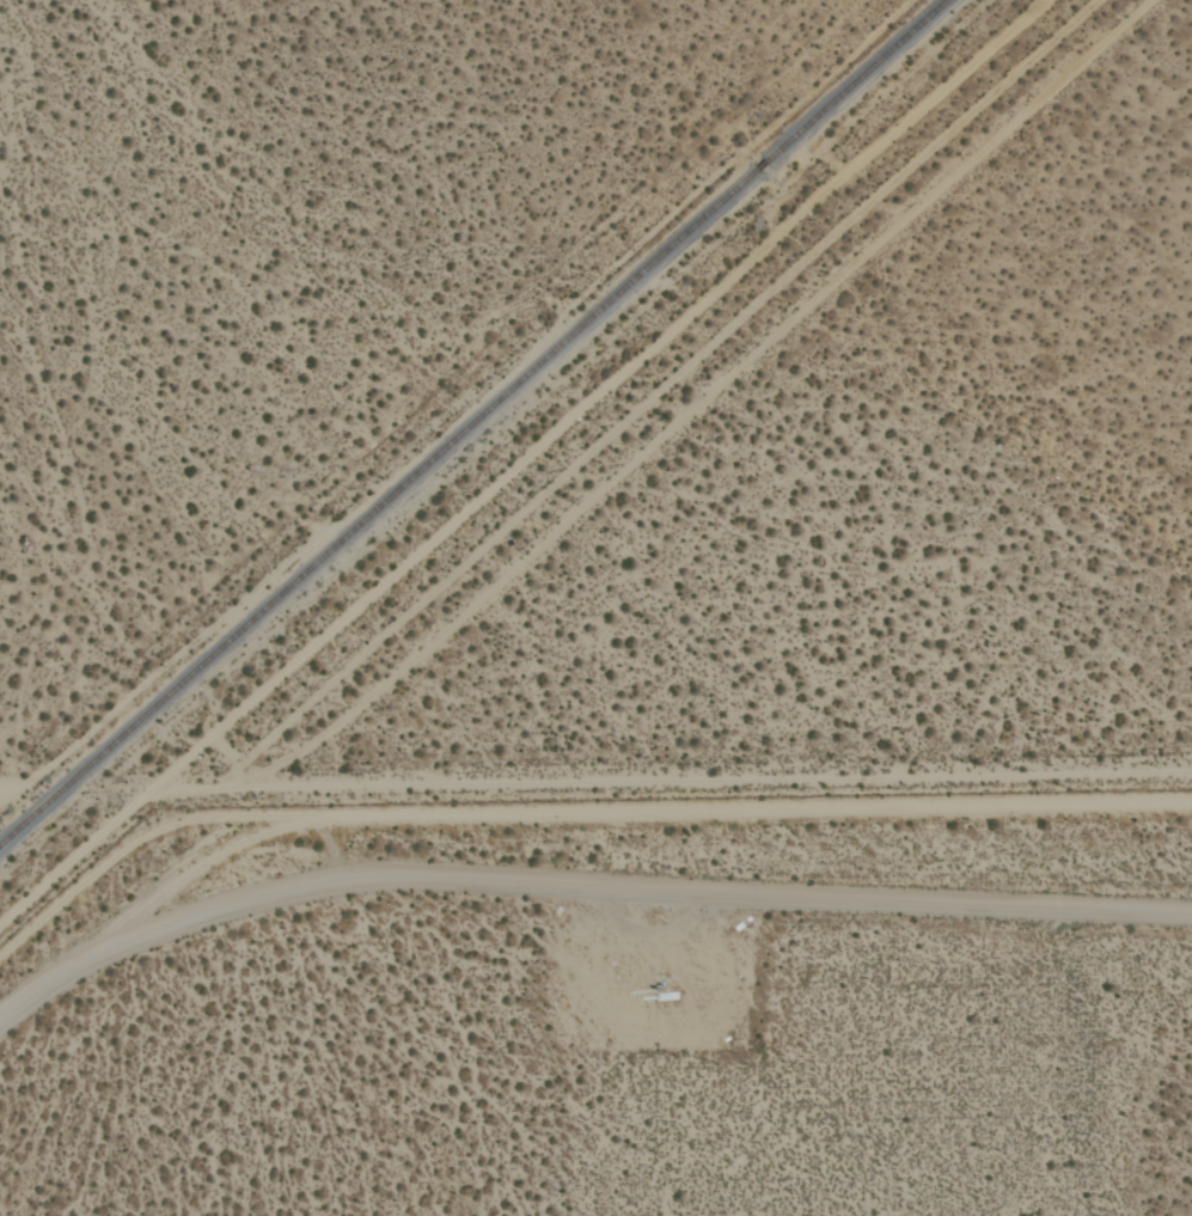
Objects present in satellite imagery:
road: (662, 395)
road: (703, 401)
railway: (475, 423)
road: (163, 668)
road: (678, 781)
road: (163, 882)
road: (581, 887)
airport: (613, 1012)

